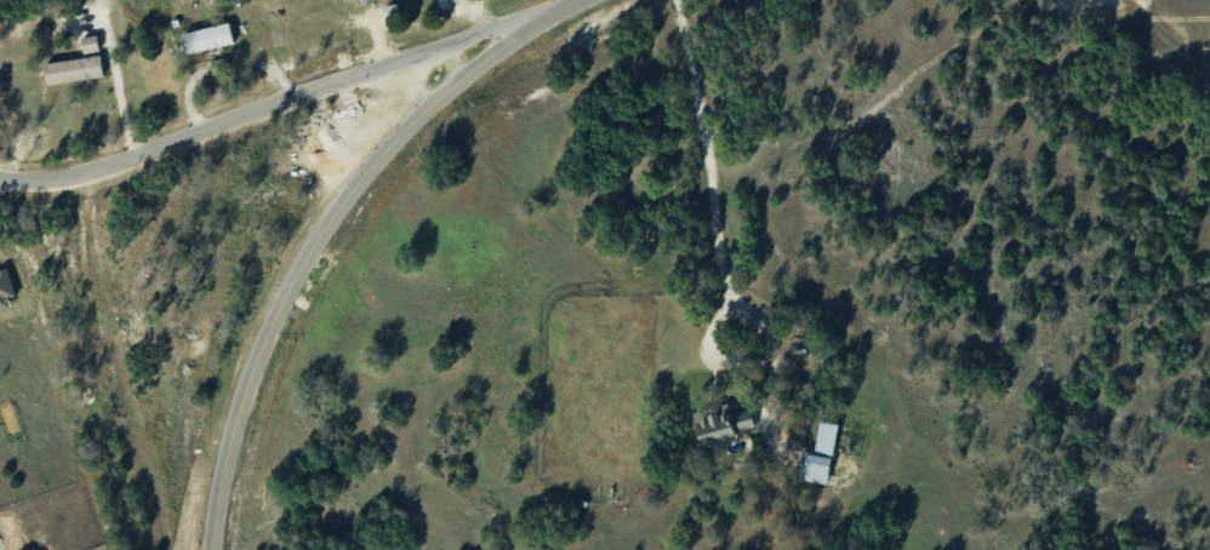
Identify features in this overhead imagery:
building: (367, 1)
building: (209, 36)
building: (91, 42)
building: (218, 65)
building: (74, 69)
road: (276, 93)
road: (703, 151)
road: (326, 227)
building: (6, 286)
road: (736, 363)
building: (724, 424)
building: (827, 436)
building: (817, 468)

